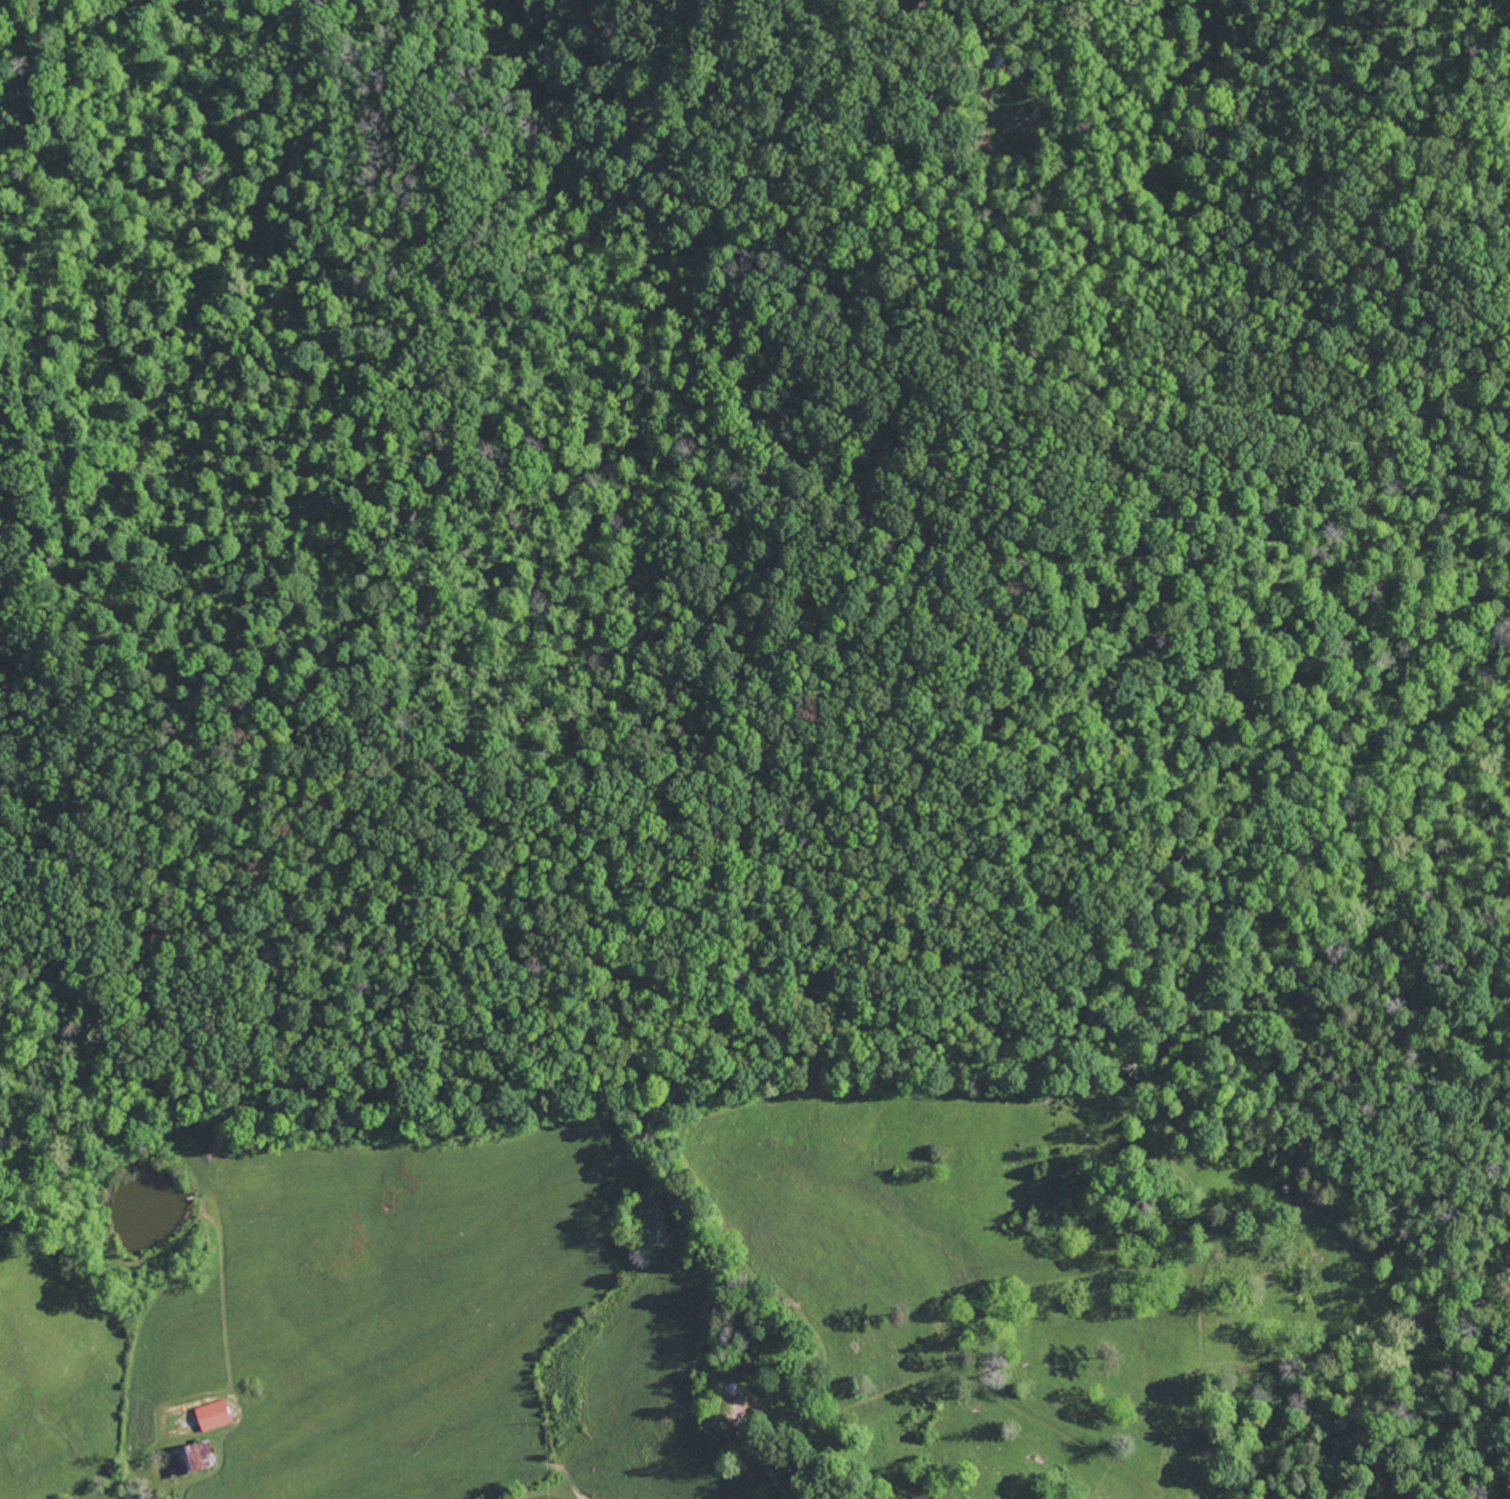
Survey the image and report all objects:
road: (1114, 886)
road: (1295, 1396)
building: (218, 1416)
building: (196, 1459)

